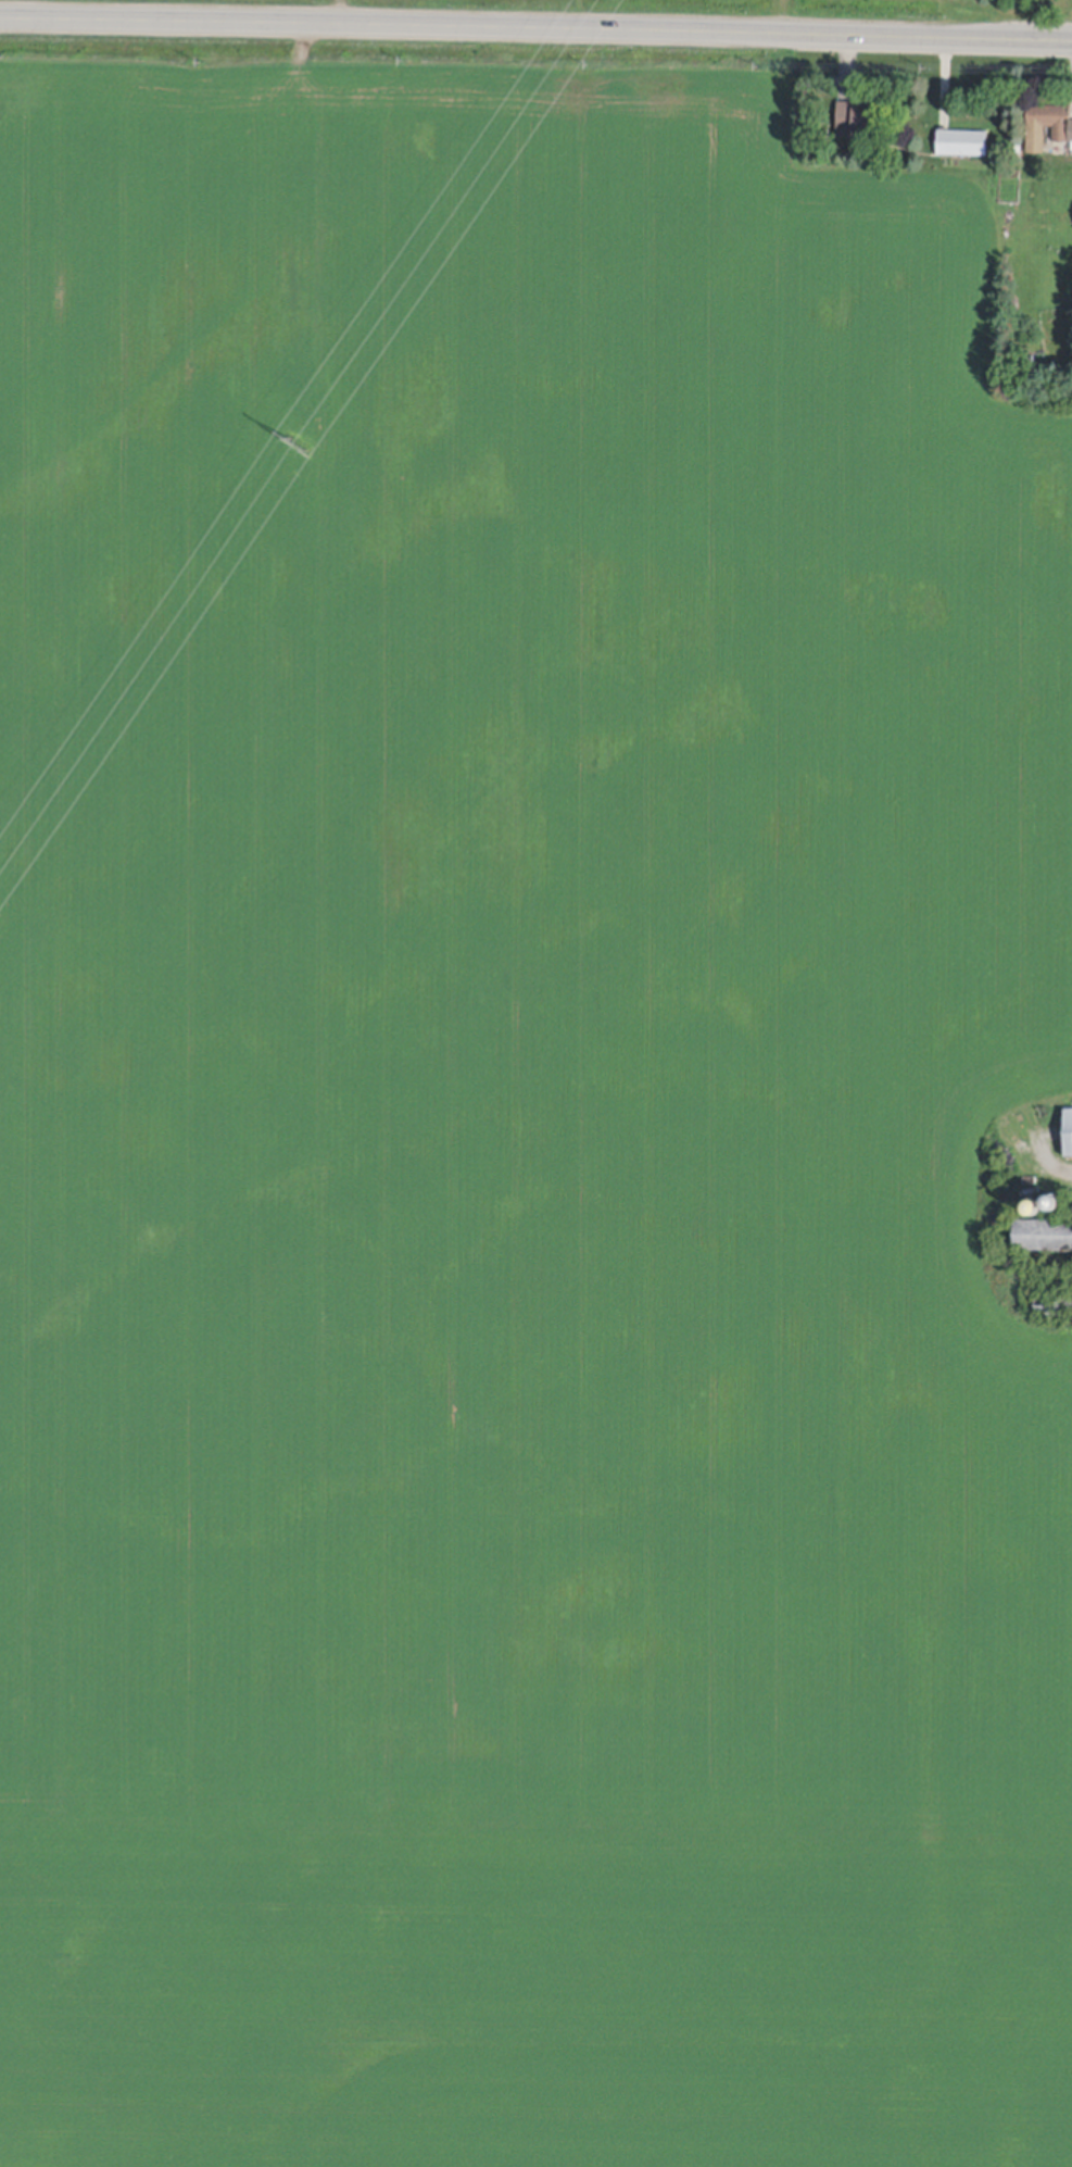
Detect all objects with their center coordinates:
road: (535, 35)
building: (854, 115)
building: (1045, 122)
building: (1070, 127)
building: (961, 139)
power tower: (299, 447)
quarry: (525, 1125)
building: (1068, 1130)
building: (1052, 1200)
building: (1033, 1206)
building: (1043, 1233)
building: (1054, 1305)

